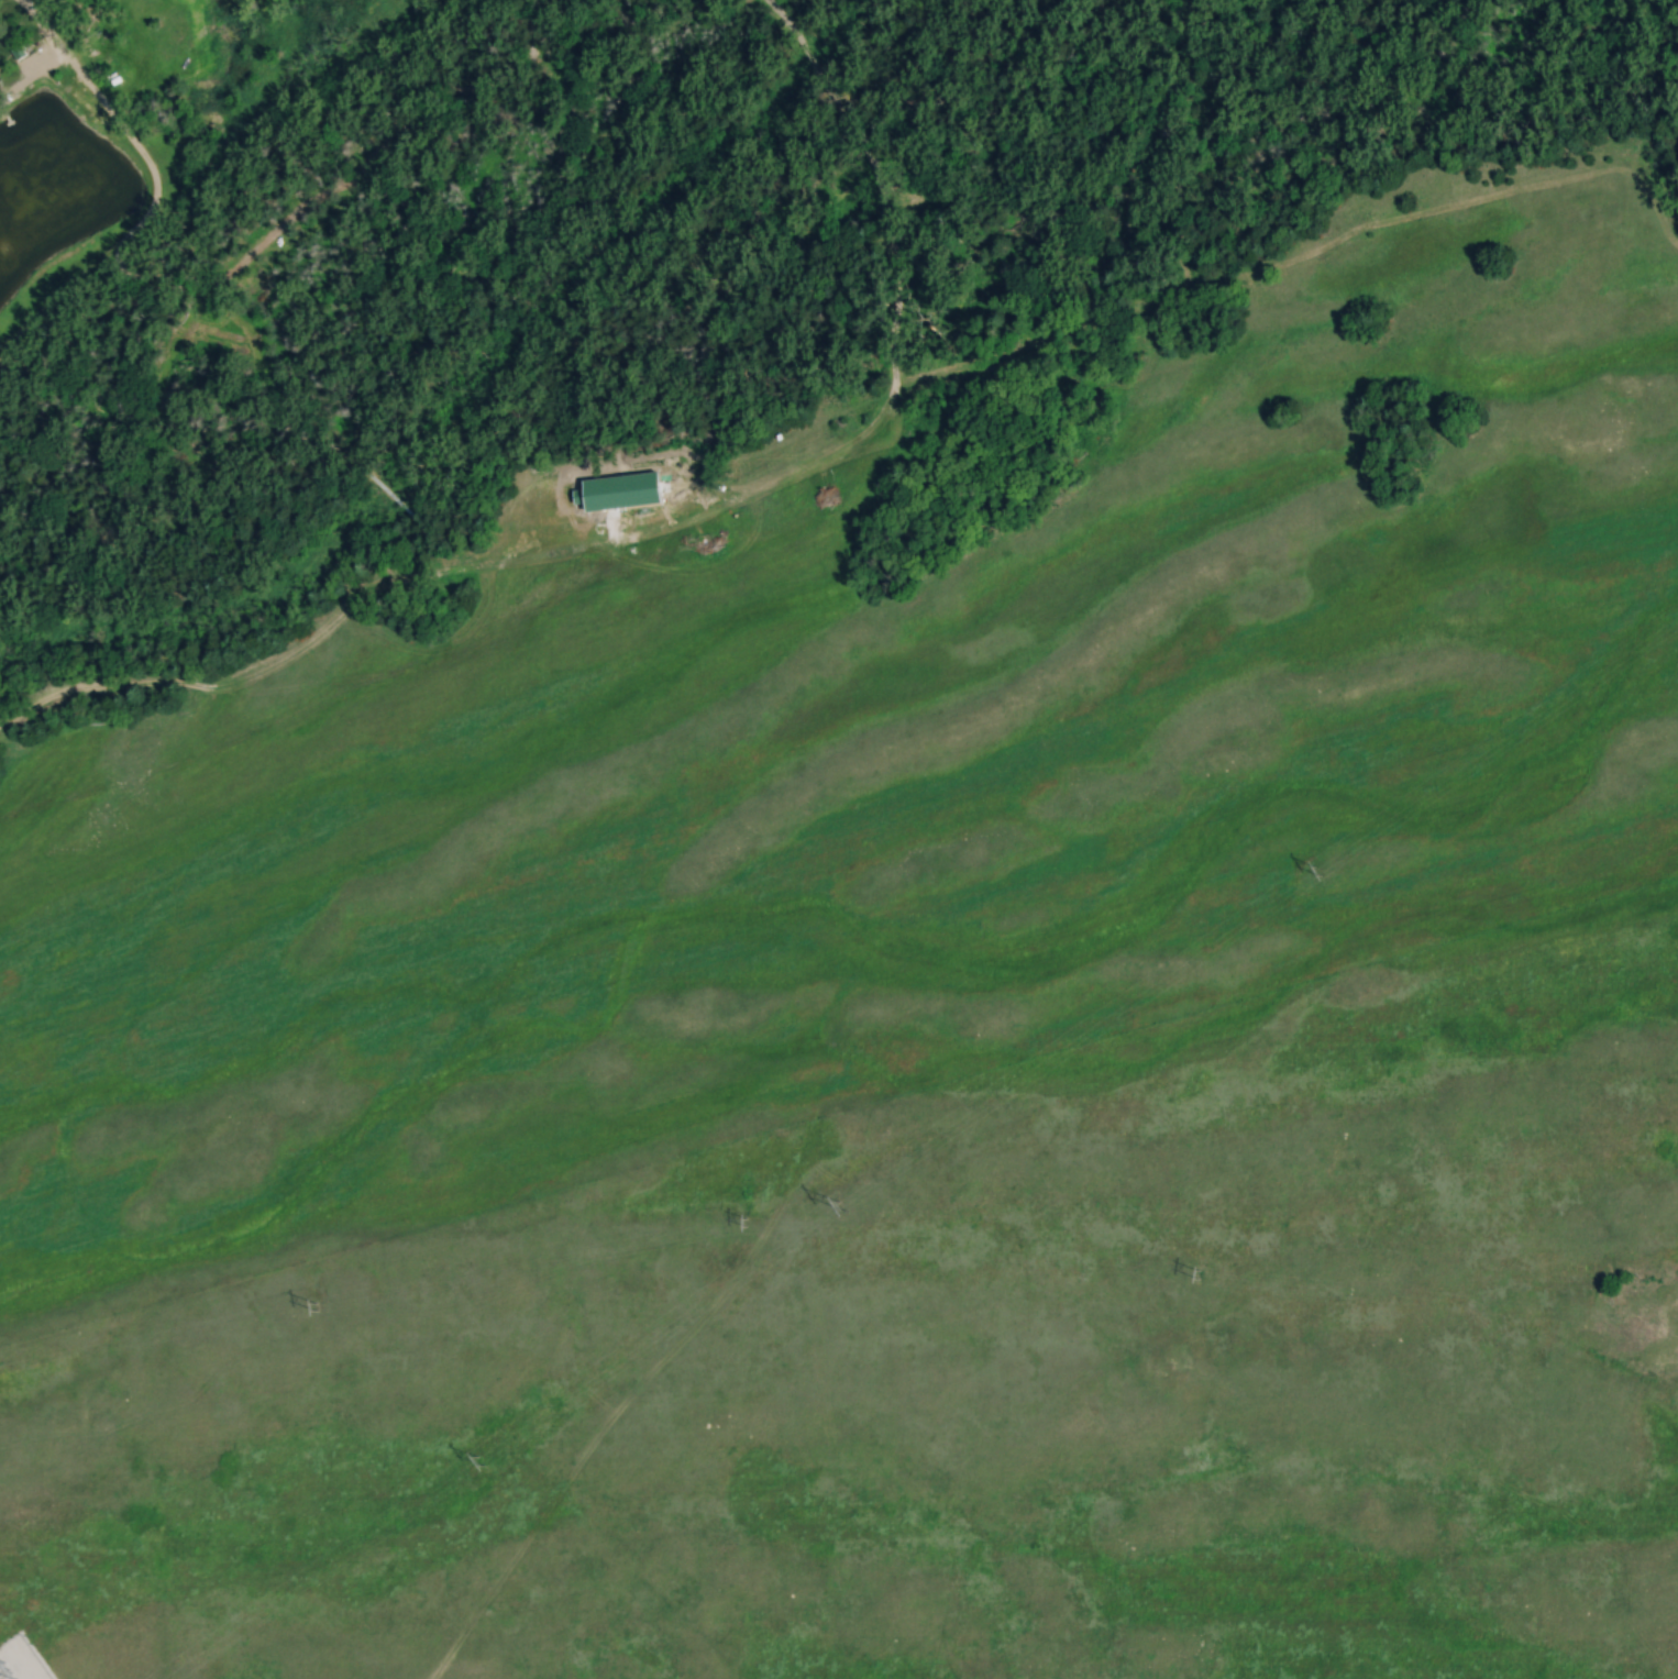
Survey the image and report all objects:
road: (152, 184)
power tower: (1314, 872)
power tower: (838, 1206)
power tower: (475, 1460)
power substation: (18, 1660)

